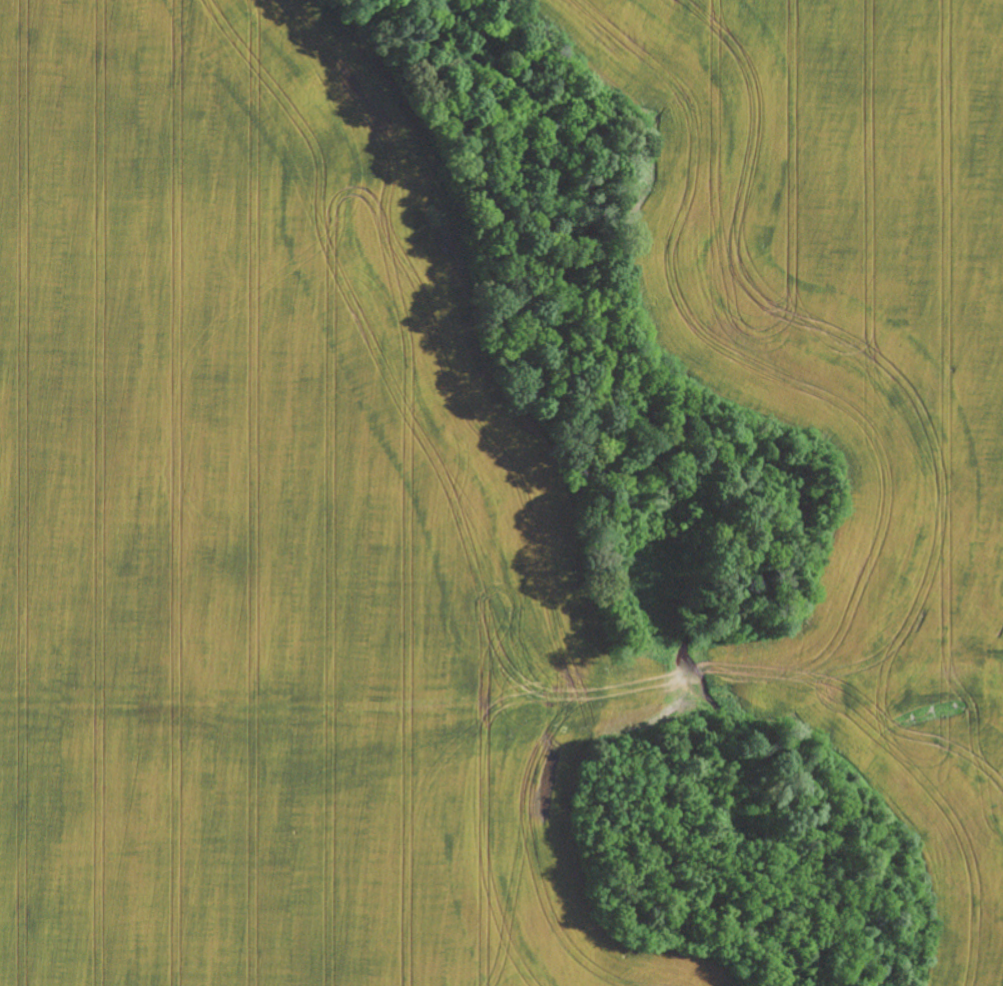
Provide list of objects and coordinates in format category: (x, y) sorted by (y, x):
road: (745, 574)

